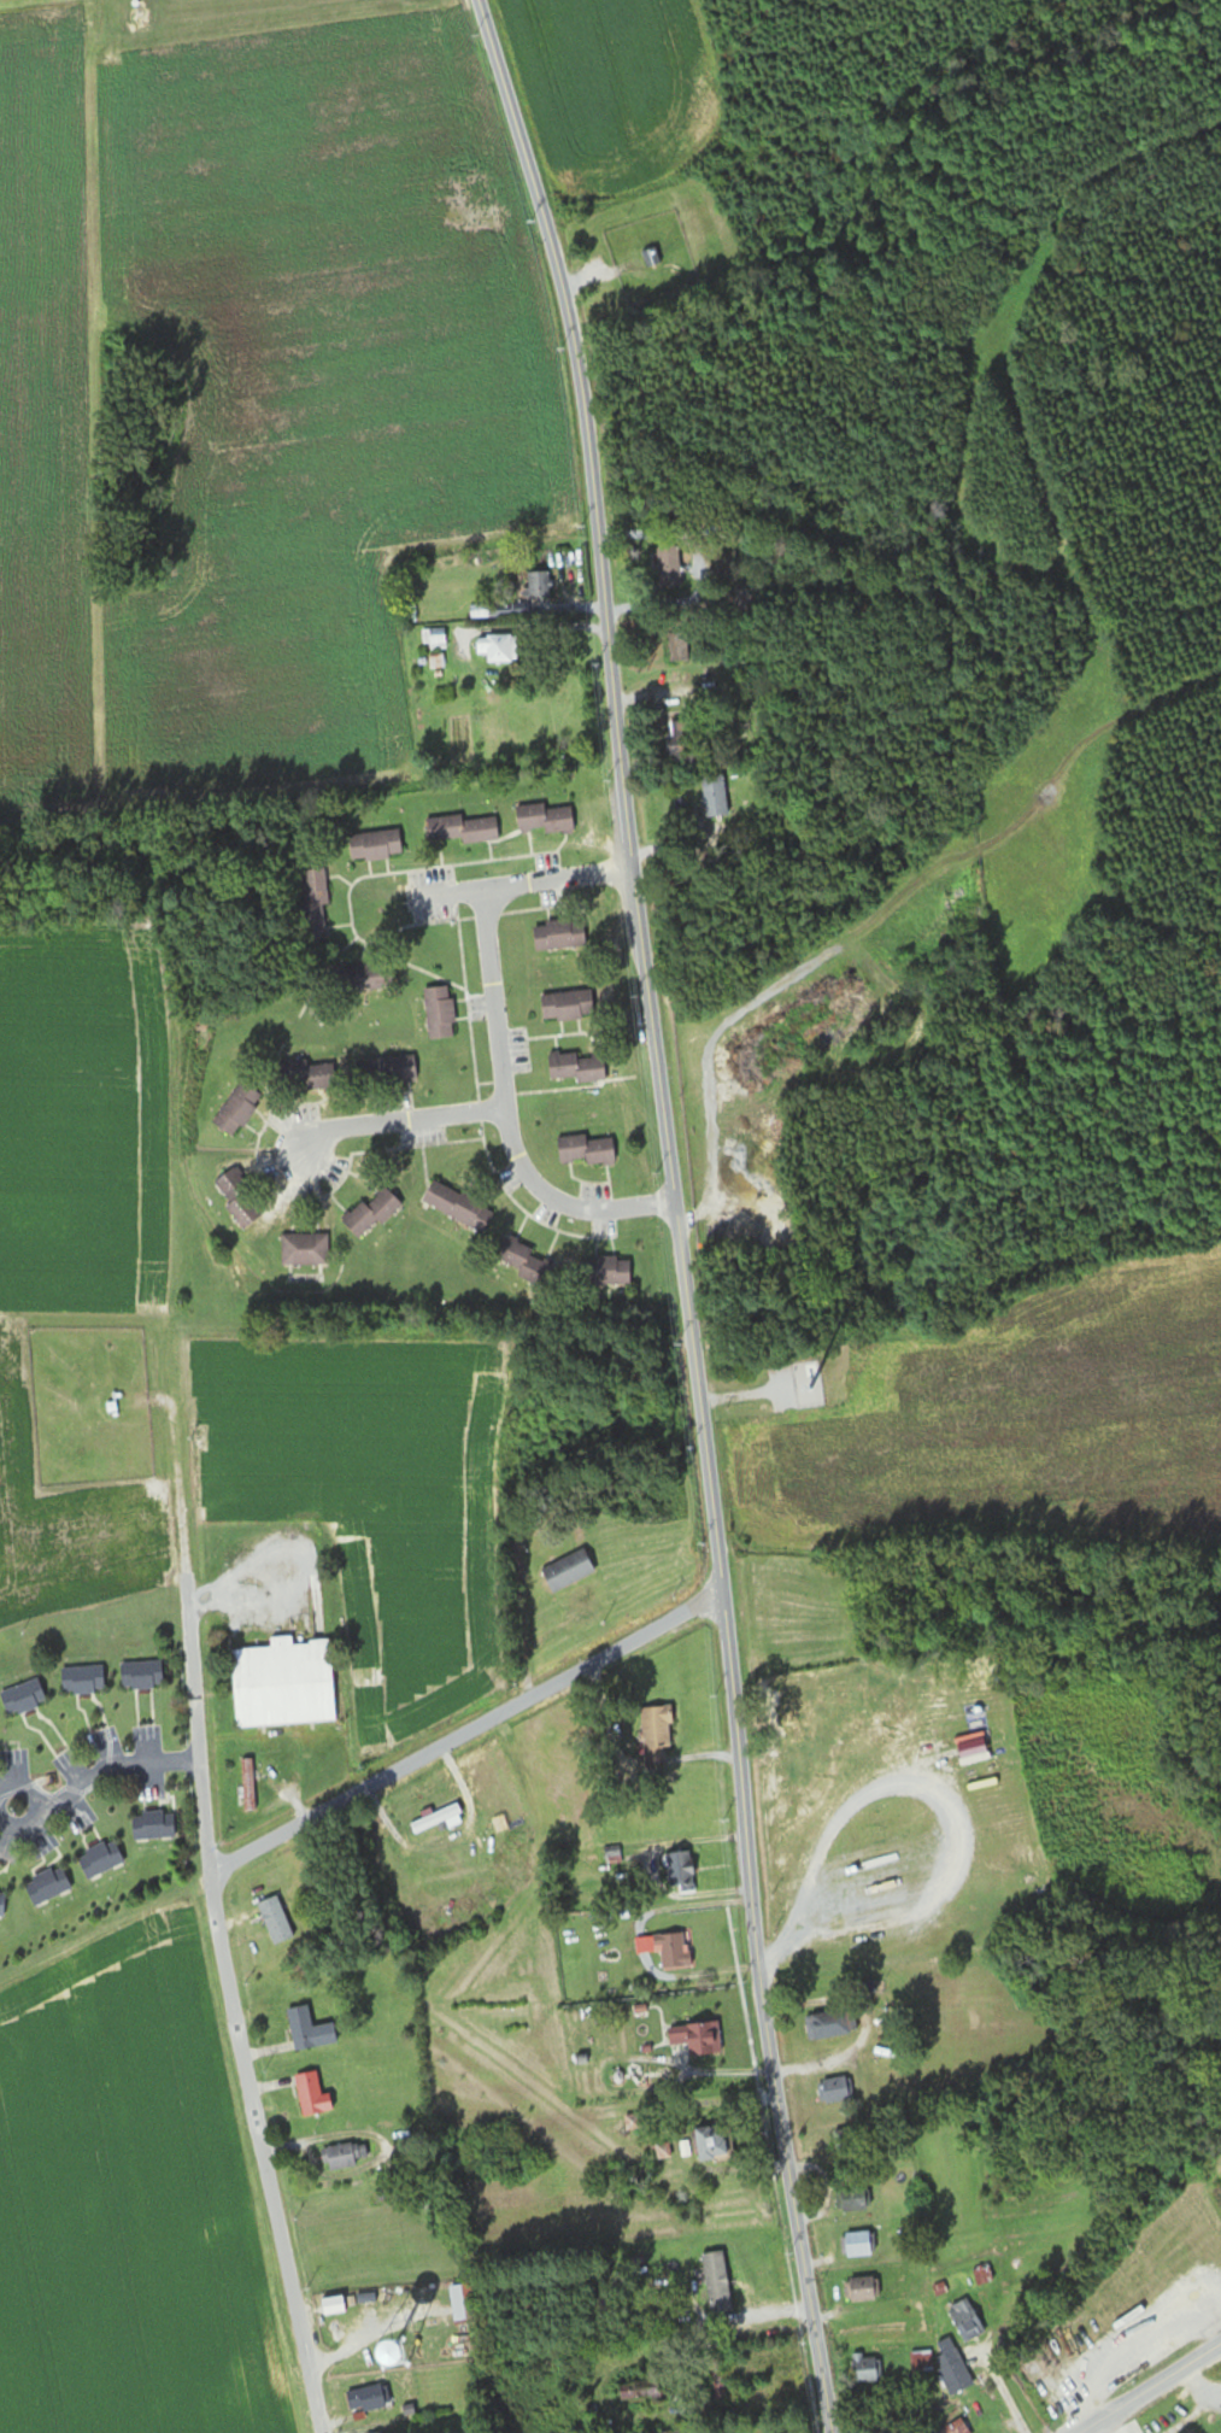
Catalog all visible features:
building: (650, 258)
building: (668, 564)
building: (535, 582)
road: (605, 594)
building: (433, 638)
building: (494, 646)
building: (676, 646)
building: (435, 661)
building: (714, 796)
building: (542, 819)
building: (460, 829)
building: (374, 845)
road: (492, 886)
building: (313, 903)
building: (558, 934)
building: (567, 1006)
building: (439, 1012)
building: (575, 1067)
building: (388, 1068)
building: (304, 1077)
building: (236, 1109)
road: (506, 1113)
road: (391, 1120)
building: (585, 1150)
building: (239, 1197)
building: (457, 1206)
building: (371, 1212)
building: (304, 1249)
building: (523, 1262)
building: (618, 1271)
road: (175, 1448)
building: (567, 1570)
road: (304, 1572)
building: (141, 1673)
building: (82, 1678)
building: (283, 1683)
building: (23, 1696)
road: (466, 1731)
building: (656, 1737)
road: (96, 1774)
building: (247, 1784)
road: (746, 1817)
building: (435, 1818)
building: (152, 1825)
building: (614, 1854)
building: (100, 1859)
building: (680, 1874)
building: (47, 1886)
building: (1, 1903)
building: (275, 1921)
building: (670, 1951)
road: (234, 2005)
building: (830, 2024)
building: (300, 2028)
building: (697, 2038)
building: (833, 2089)
building: (312, 2094)
building: (850, 2140)
building: (709, 2142)
building: (344, 2156)
building: (851, 2197)
building: (856, 2245)
building: (982, 2274)
building: (716, 2282)
building: (858, 2290)
building: (462, 2304)
building: (1010, 2309)
building: (965, 2320)
building: (918, 2363)
building: (951, 2368)
building: (863, 2369)
road: (1151, 2387)
road: (1005, 2391)
building: (720, 2392)
building: (638, 2393)
building: (365, 2399)
building: (956, 2427)
building: (398, 2431)

